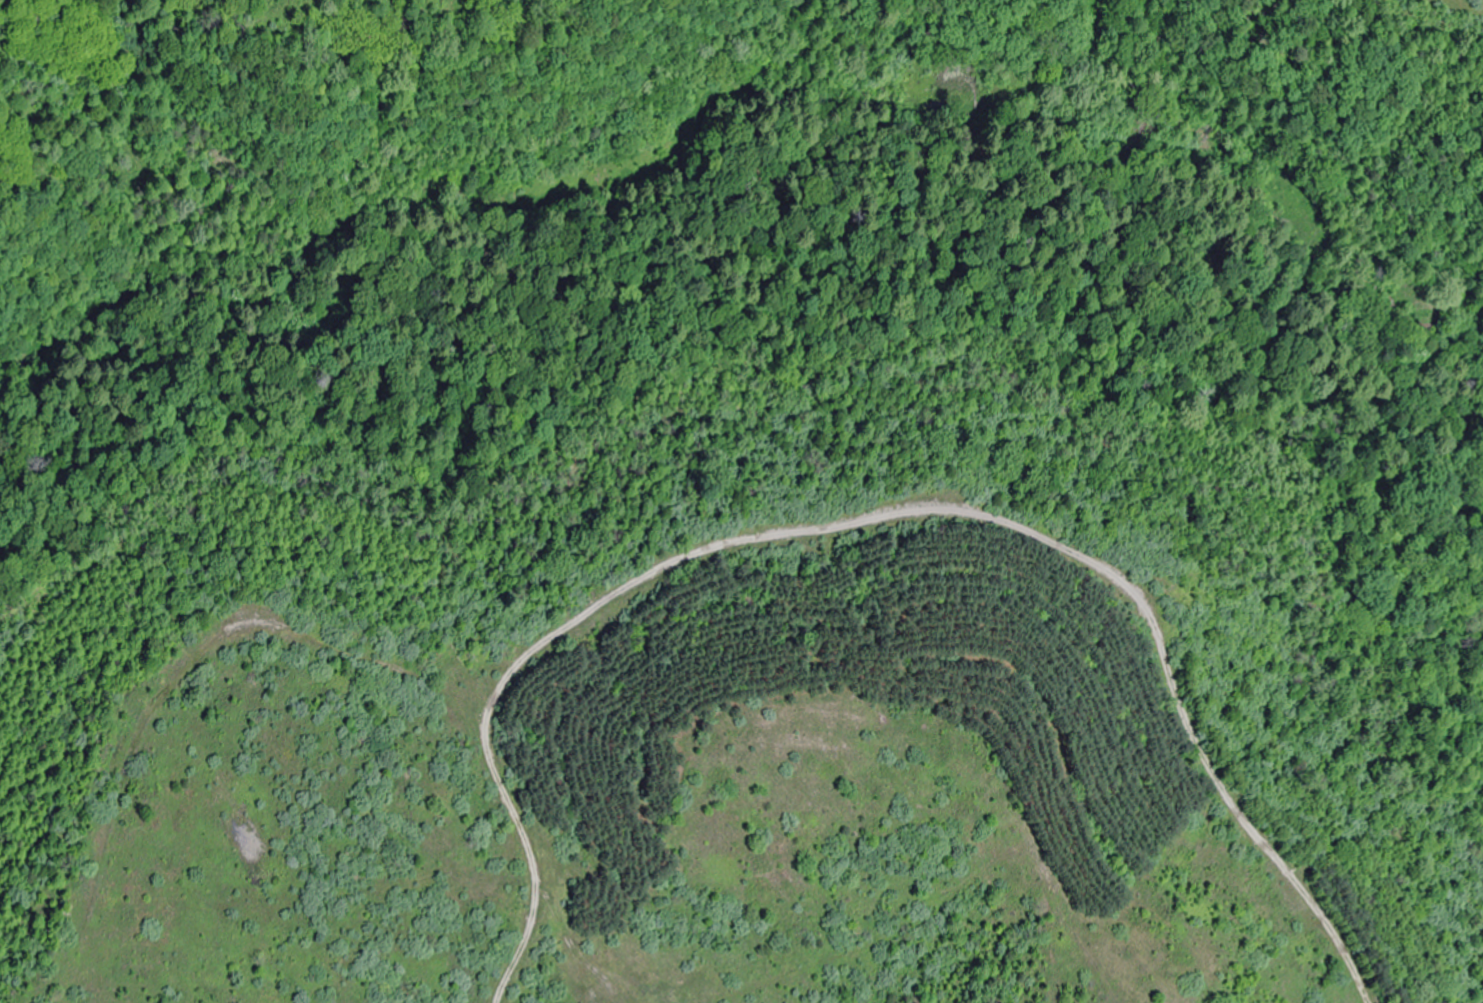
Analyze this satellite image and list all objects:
quarry: (9, 19)

